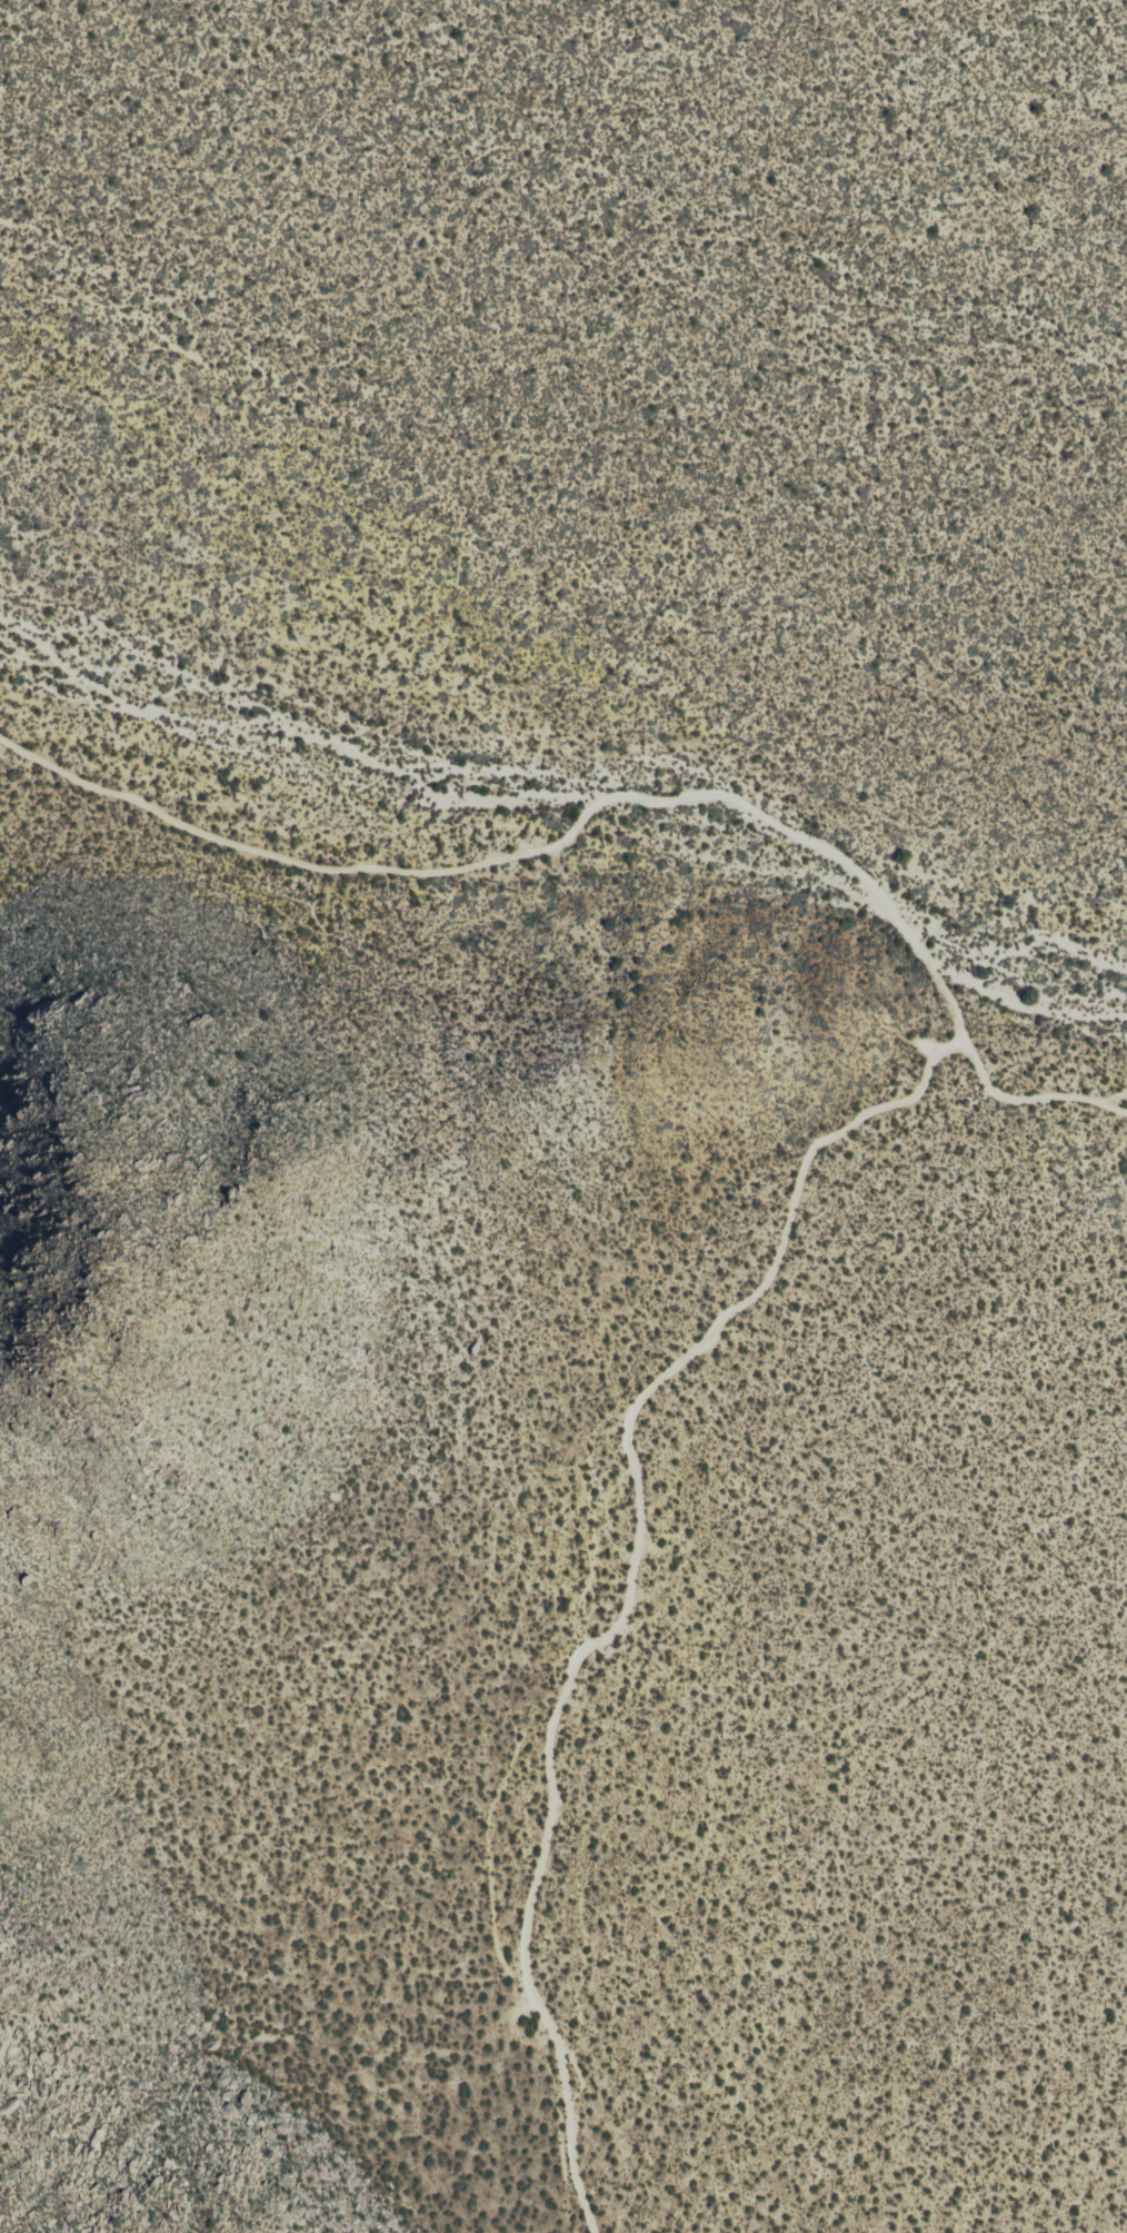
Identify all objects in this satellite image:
road: (1028, 1098)
road: (862, 1115)

